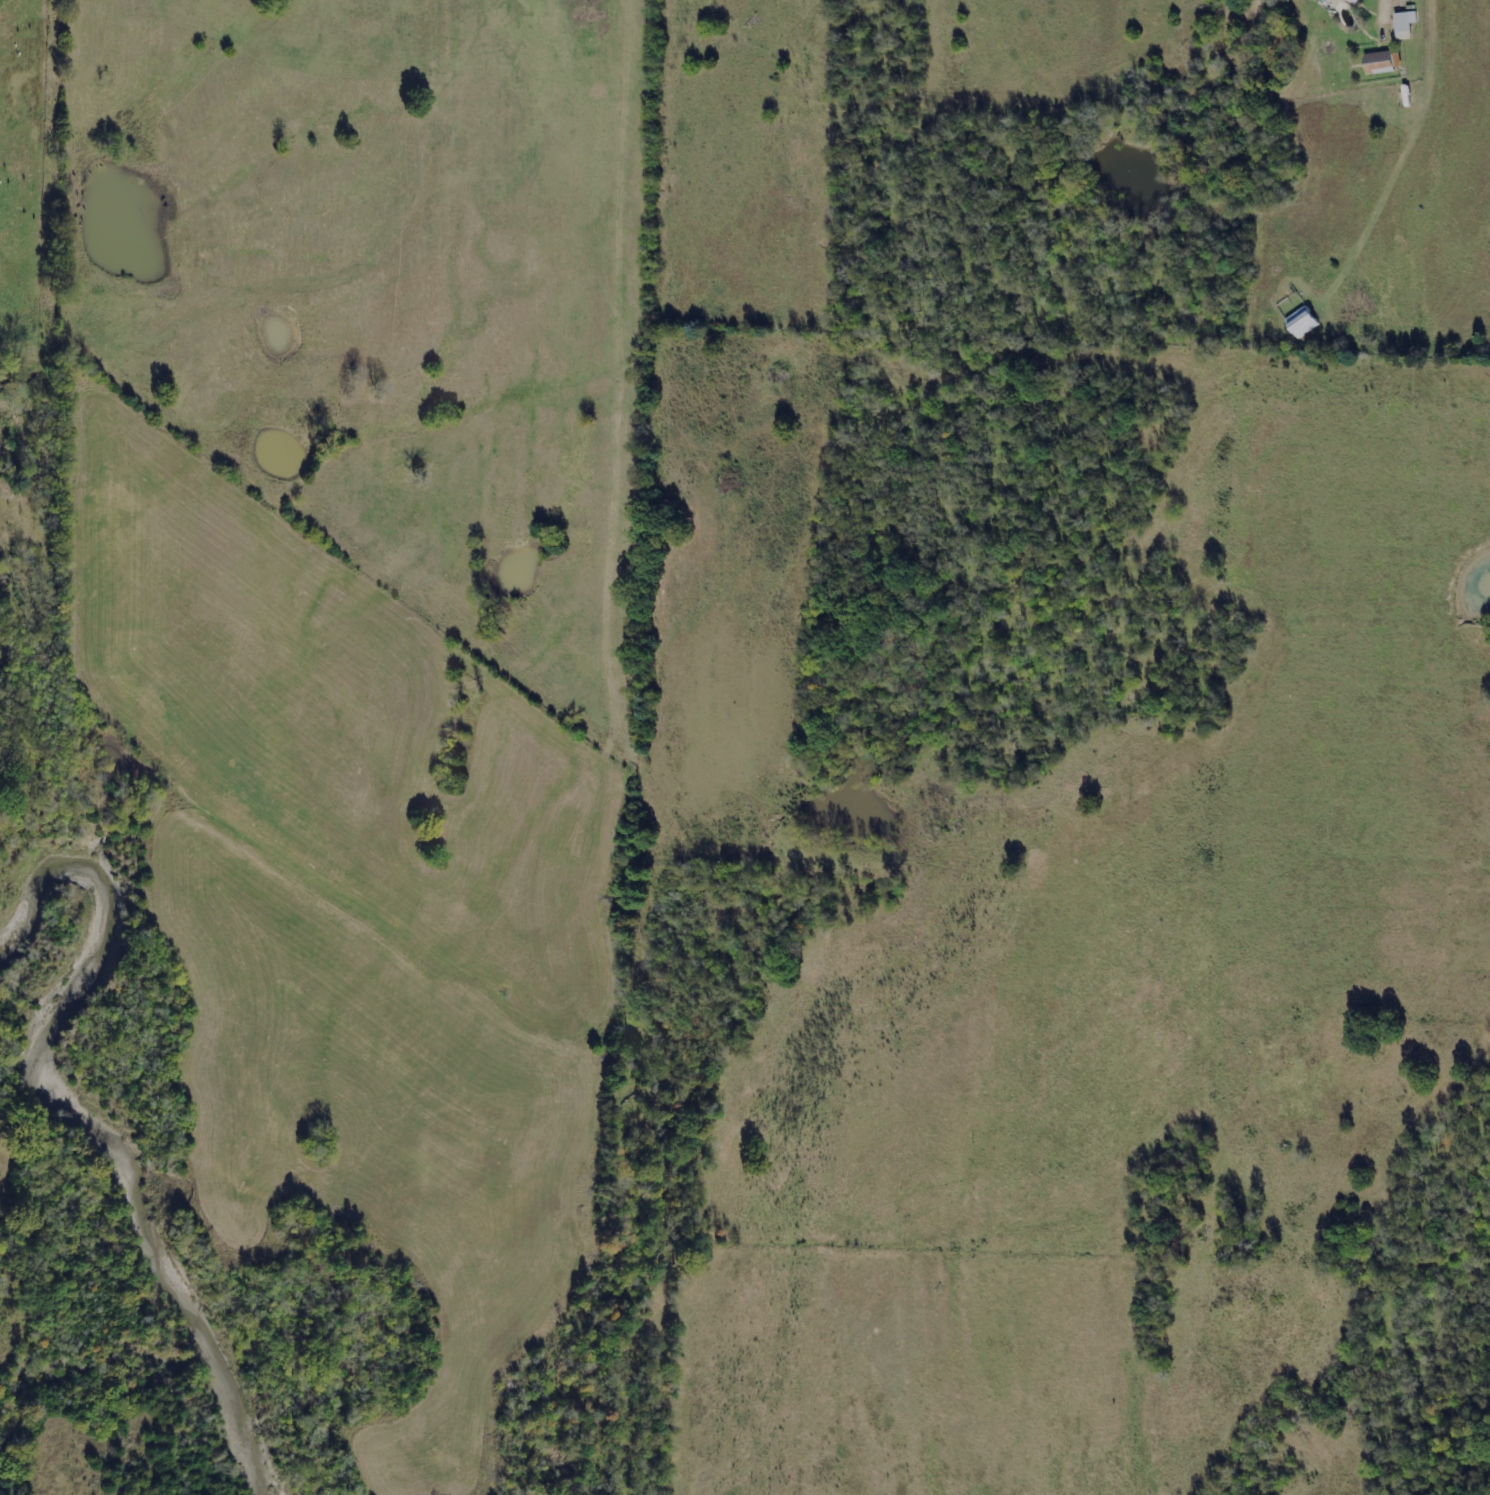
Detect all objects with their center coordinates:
building: (1358, 1)
building: (1407, 24)
building: (1382, 62)
building: (1304, 321)

